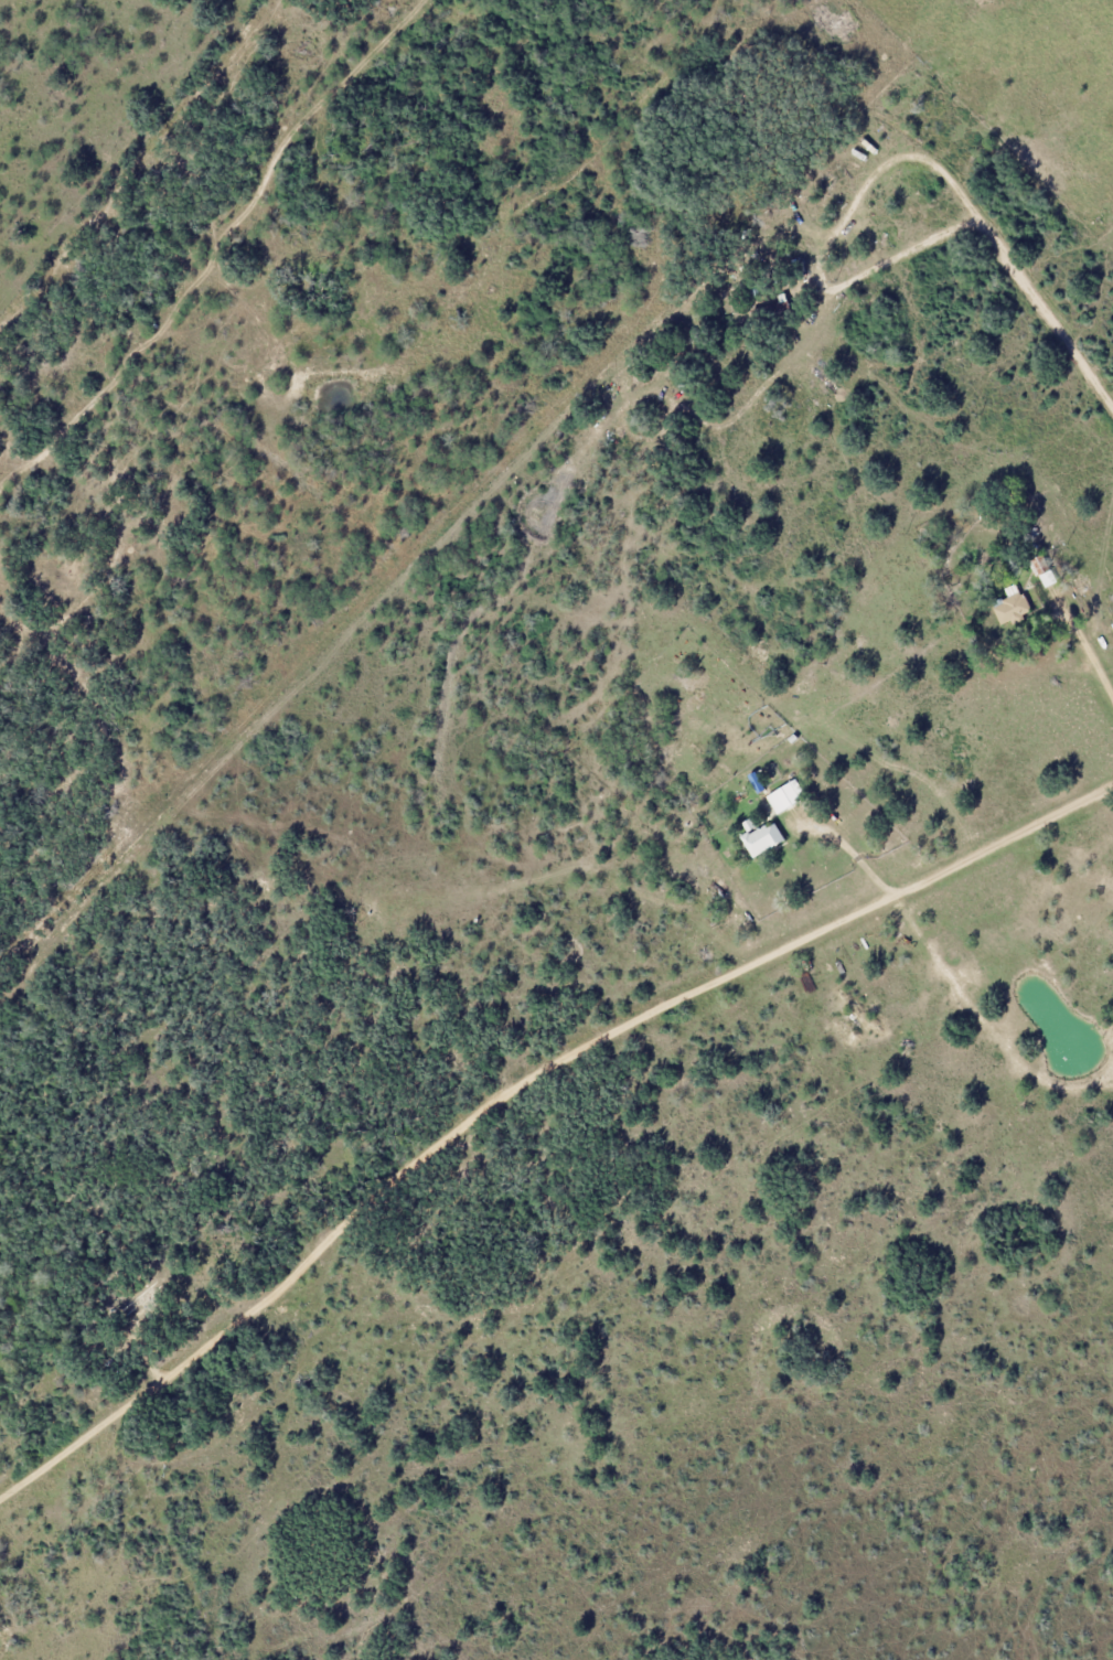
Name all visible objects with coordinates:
building: (777, 307)
building: (1010, 609)
building: (783, 799)
building: (760, 840)
road: (520, 1089)
building: (136, 1299)

